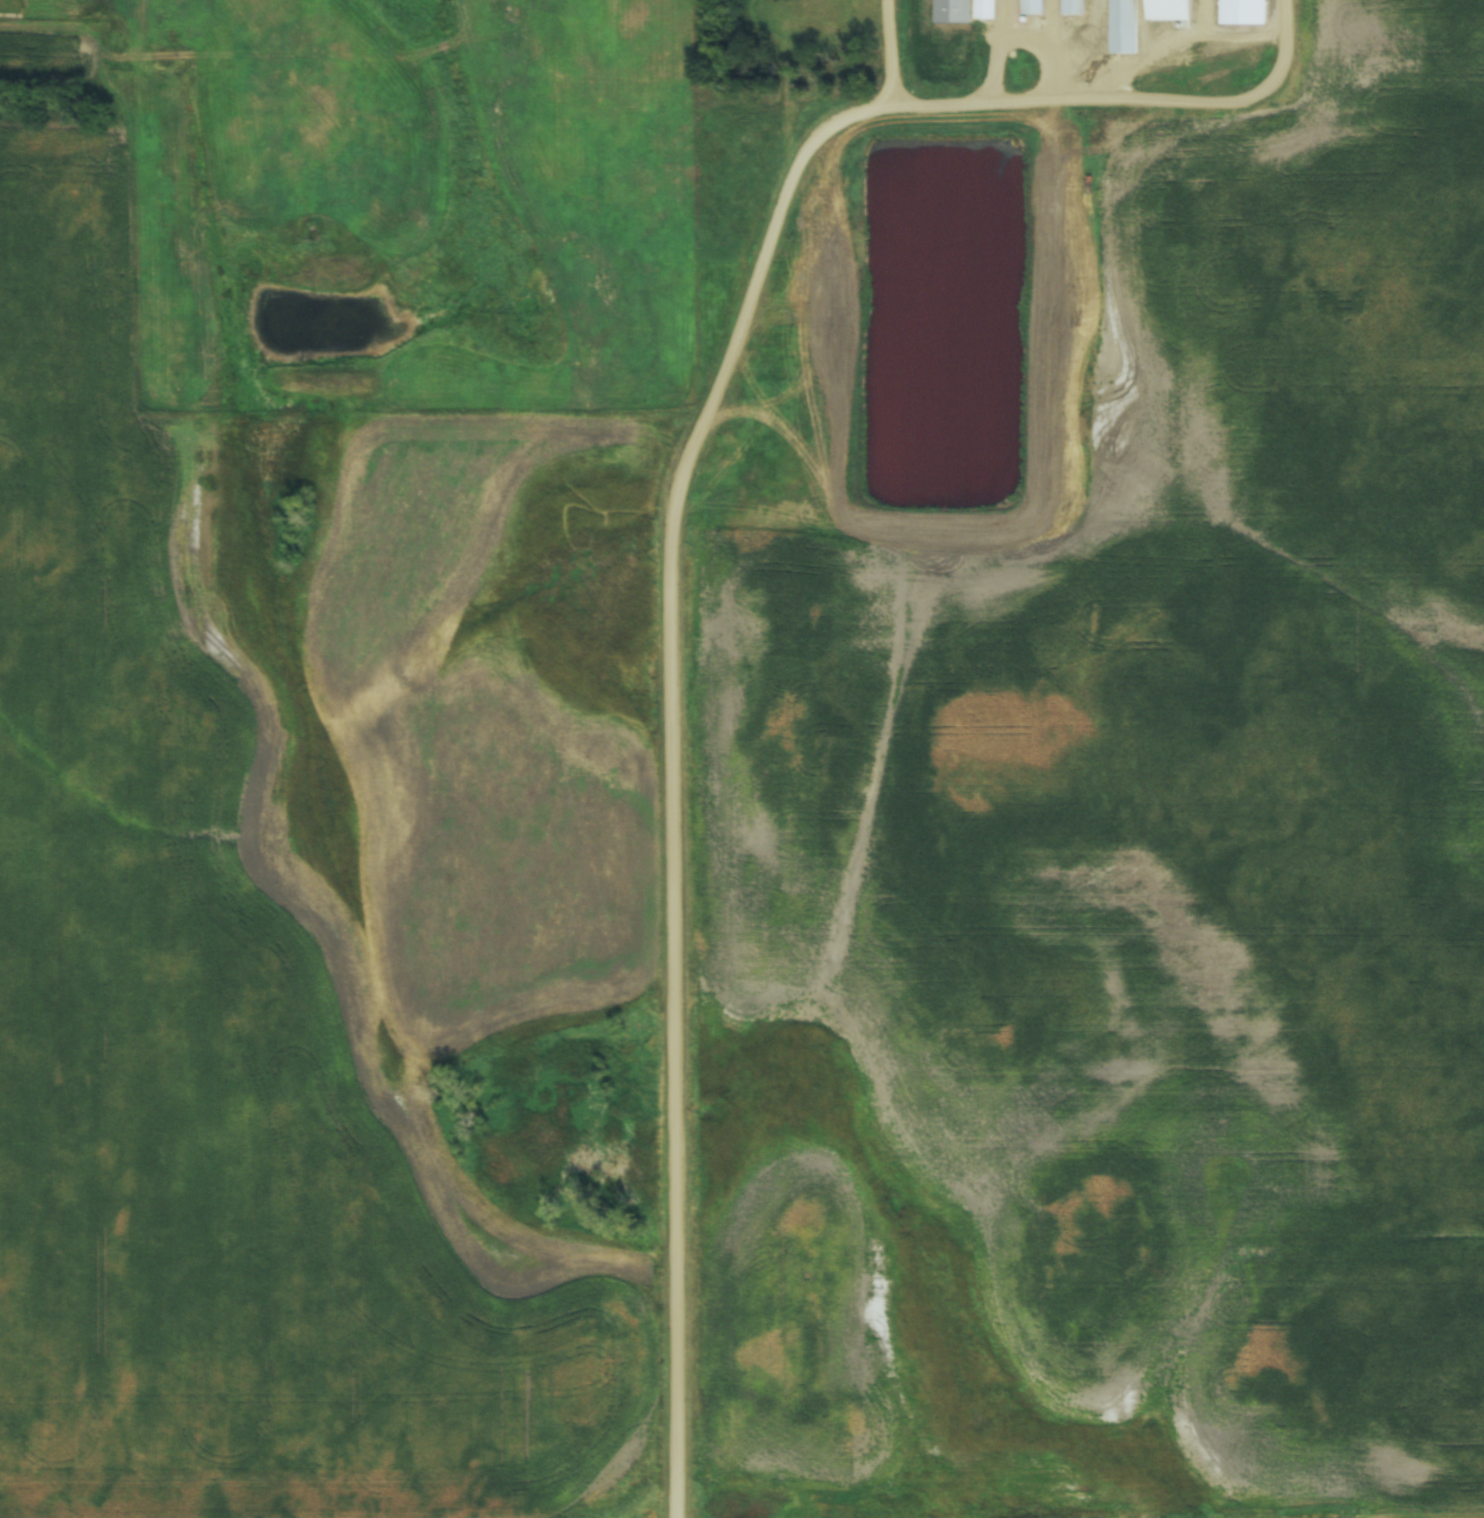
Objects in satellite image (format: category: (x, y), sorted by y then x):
building: (954, 2)
building: (1032, 7)
building: (1073, 7)
building: (985, 10)
building: (1168, 10)
building: (1243, 11)
building: (1123, 26)

